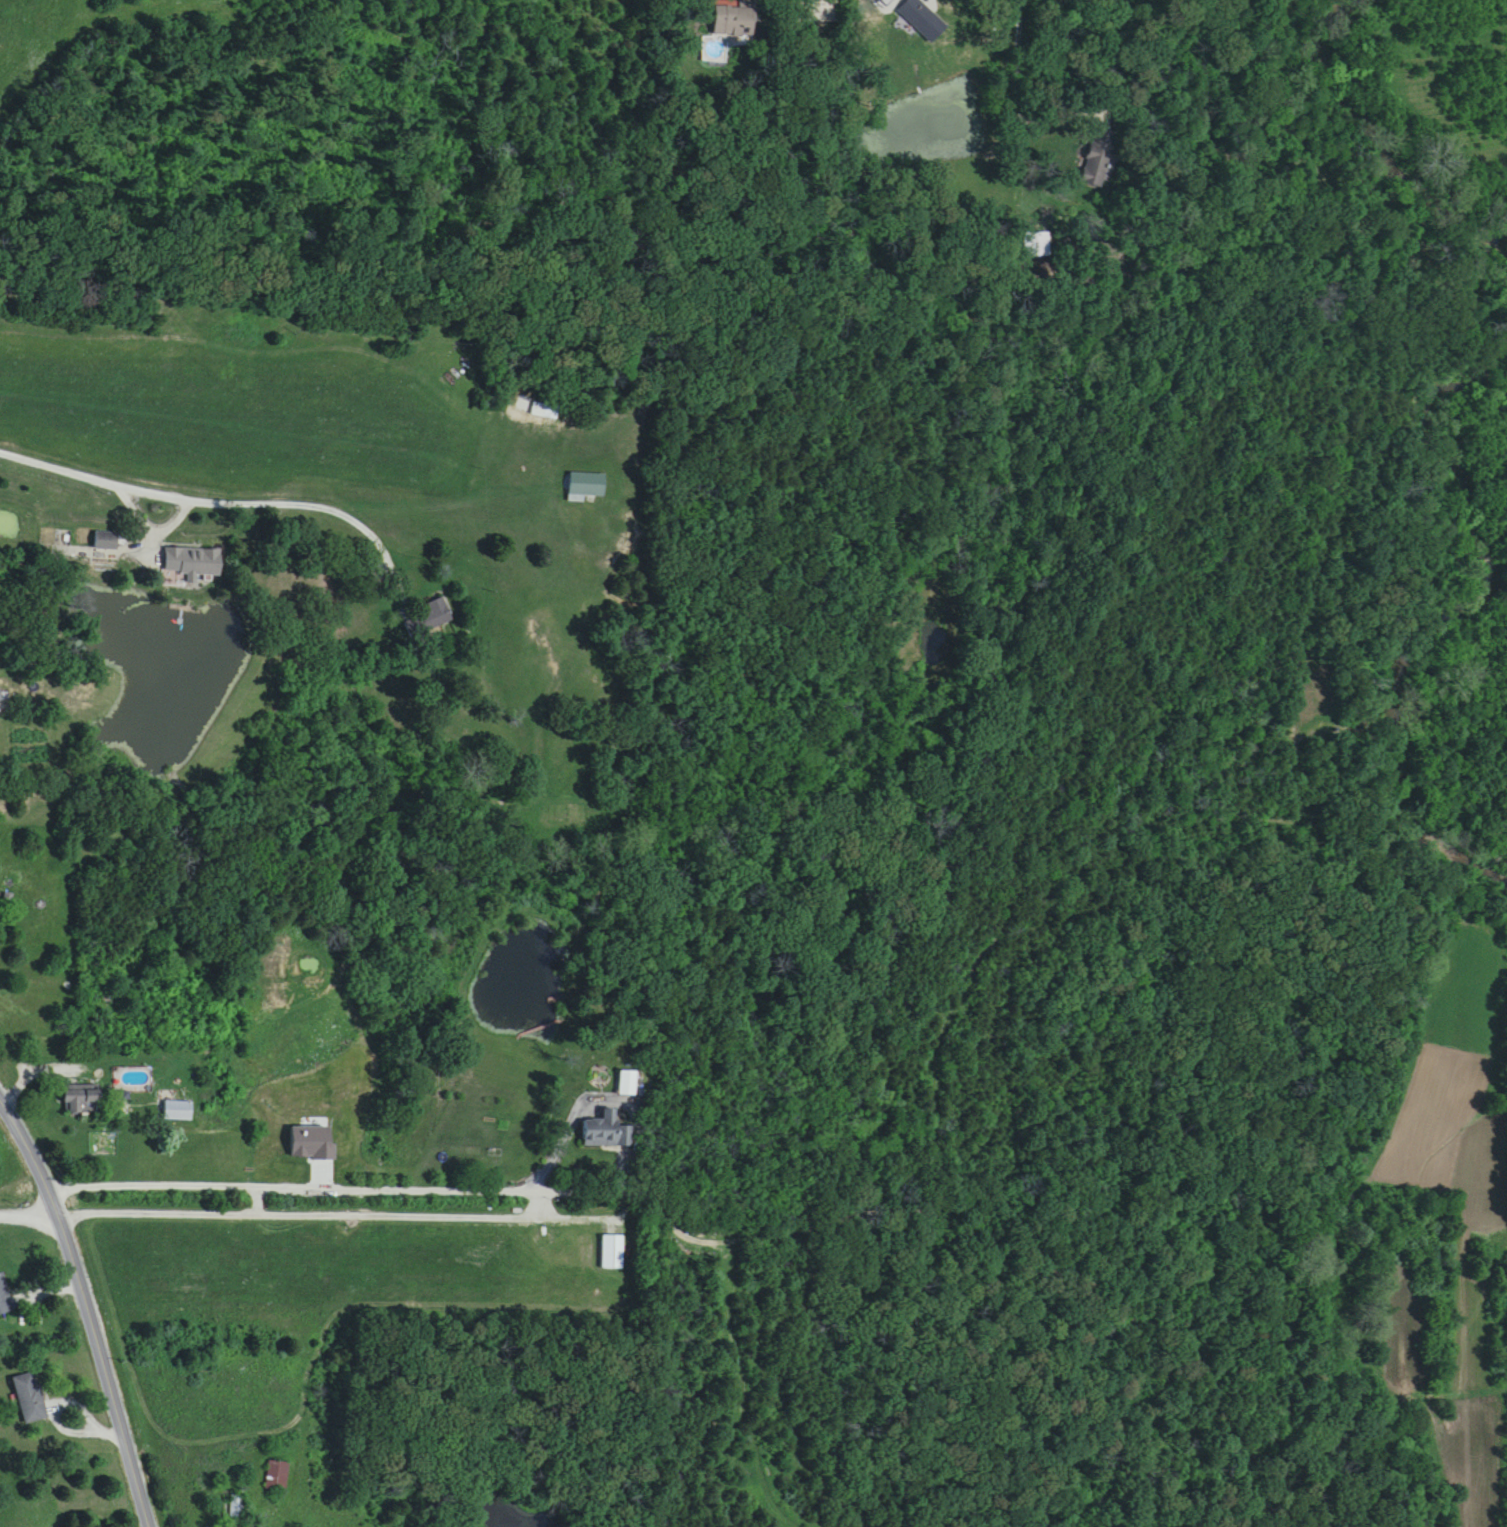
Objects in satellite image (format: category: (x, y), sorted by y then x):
building: (741, 20)
road: (1016, 58)
river: (1425, 157)
building: (1100, 158)
building: (1036, 244)
building: (545, 411)
road: (313, 508)
building: (106, 541)
building: (194, 564)
building: (431, 618)
road: (37, 694)
river: (1354, 790)
road: (71, 1039)
building: (627, 1084)
building: (81, 1103)
building: (177, 1112)
building: (606, 1134)
road: (415, 1192)
road: (566, 1196)
road: (27, 1218)
road: (331, 1218)
building: (612, 1253)
building: (4, 1298)
road: (84, 1311)
building: (30, 1398)
road: (73, 1434)
road: (115, 1439)
building: (278, 1476)
building: (233, 1508)

